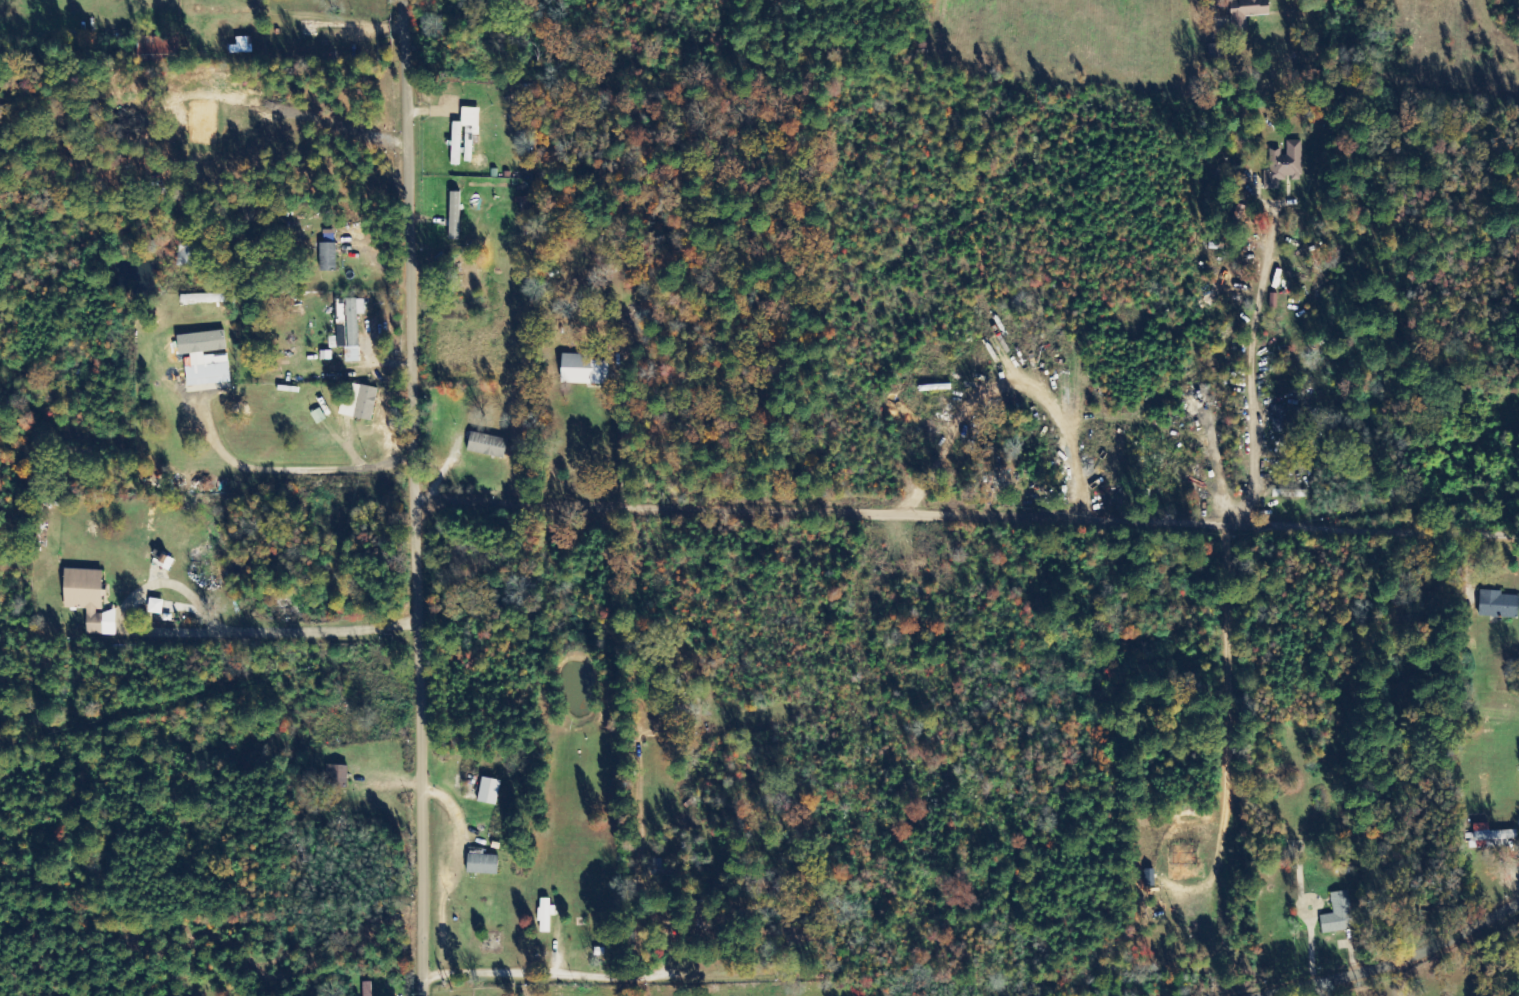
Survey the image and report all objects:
building: (1247, 11)
building: (158, 45)
building: (1284, 164)
building: (454, 216)
building: (328, 251)
building: (187, 253)
building: (204, 298)
building: (349, 331)
building: (205, 360)
building: (584, 370)
building: (366, 403)
building: (1282, 419)
building: (487, 445)
road: (417, 497)
road: (967, 515)
building: (88, 599)
building: (1498, 605)
building: (156, 606)
building: (338, 777)
building: (489, 791)
building: (1492, 836)
building: (483, 865)
building: (545, 914)
building: (1338, 914)
road: (1400, 960)
road: (549, 971)
building: (367, 989)

